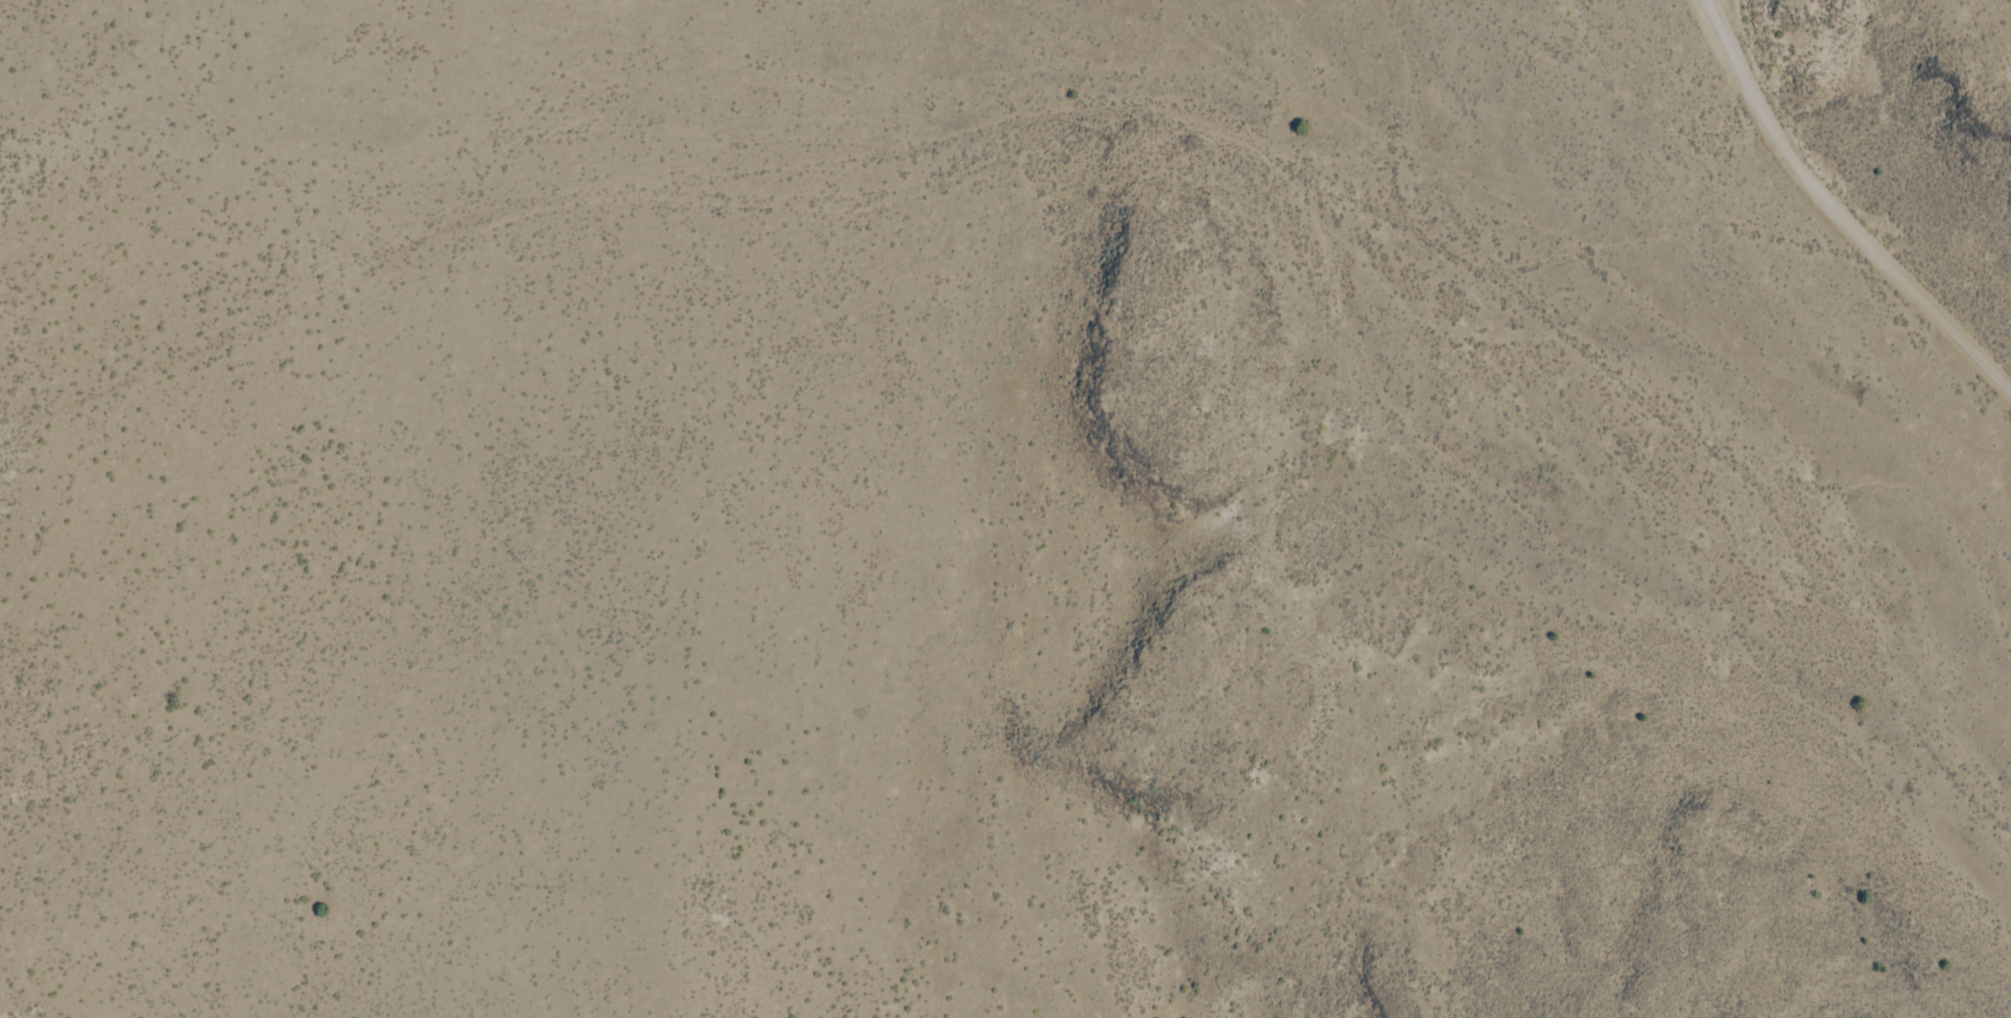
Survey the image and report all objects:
road: (1835, 211)

